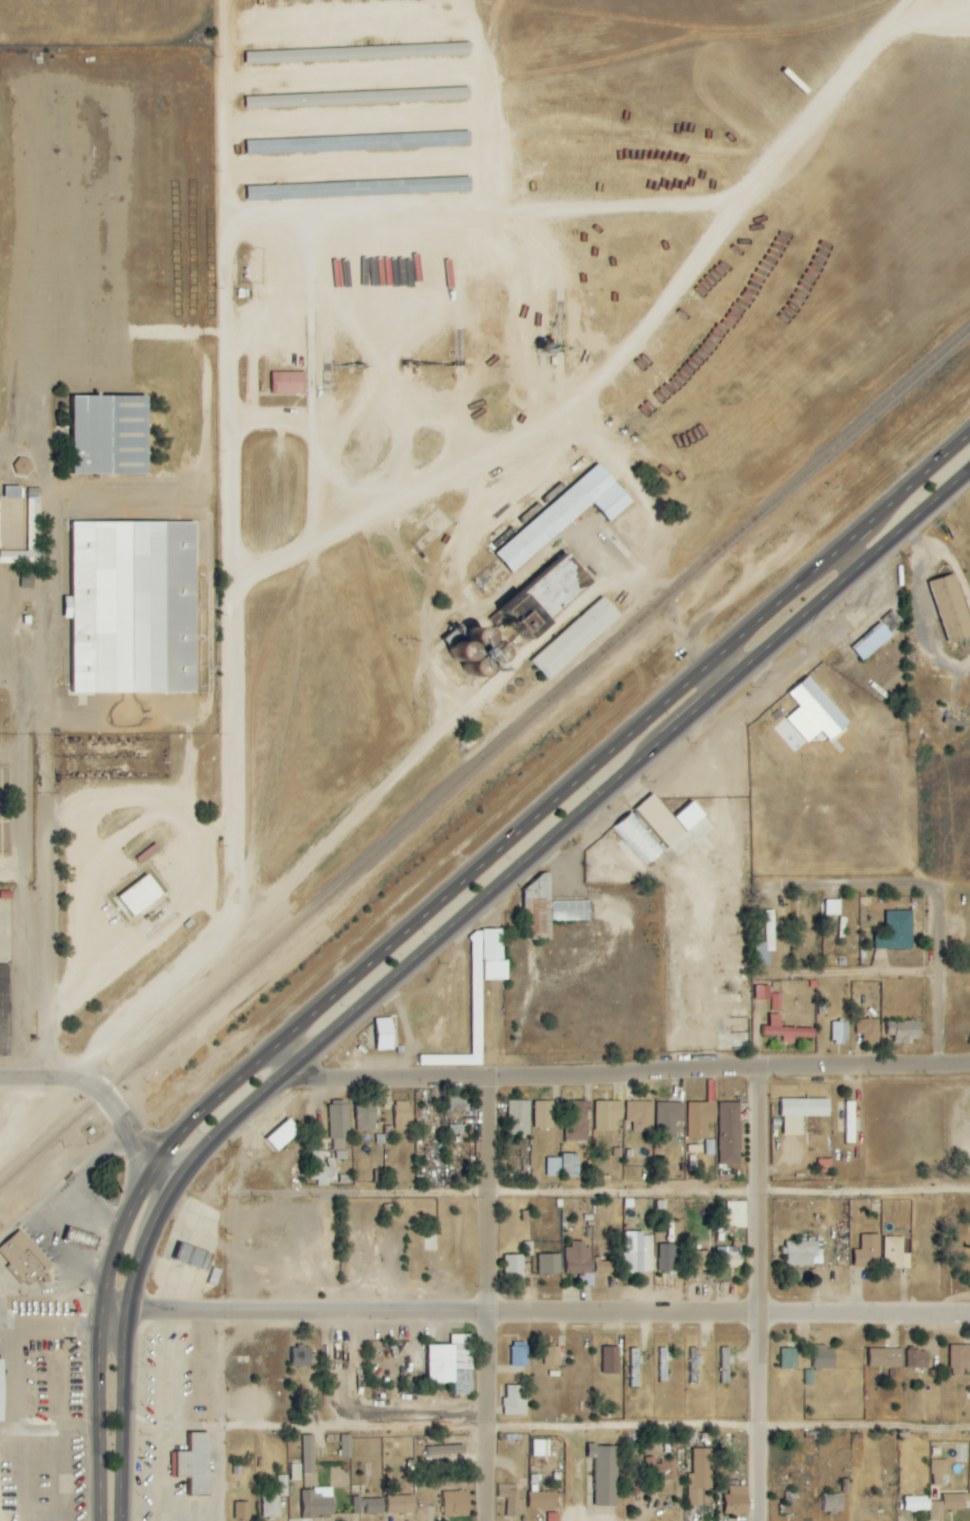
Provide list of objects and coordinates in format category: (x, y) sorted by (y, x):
building: (359, 53)
building: (359, 98)
building: (359, 143)
building: (359, 189)
road: (631, 356)
building: (289, 383)
building: (111, 434)
road: (328, 448)
road: (232, 459)
building: (24, 466)
building: (13, 492)
building: (567, 514)
building: (29, 536)
road: (852, 553)
building: (28, 580)
road: (929, 586)
building: (542, 595)
road: (649, 600)
building: (134, 608)
building: (952, 608)
road: (429, 612)
building: (576, 638)
building: (478, 641)
storage tank: (478, 641)
building: (873, 641)
building: (460, 653)
storage tank: (460, 653)
building: (491, 658)
storage tank: (491, 658)
building: (473, 670)
storage tank: (473, 670)
building: (816, 713)
railway: (499, 742)
road: (48, 778)
road: (564, 787)
road: (121, 807)
building: (669, 818)
road: (341, 821)
road: (564, 825)
road: (843, 888)
road: (23, 891)
building: (140, 895)
road: (205, 895)
road: (91, 906)
building: (833, 907)
building: (549, 909)
building: (897, 931)
building: (766, 940)
road: (856, 977)
road: (947, 984)
building: (477, 994)
building: (769, 997)
building: (869, 1029)
building: (787, 1030)
building: (905, 1030)
building: (839, 1032)
building: (385, 1034)
road: (113, 1035)
road: (956, 1064)
road: (598, 1077)
road: (27, 1080)
building: (457, 1105)
building: (801, 1113)
building: (544, 1114)
building: (366, 1115)
building: (402, 1115)
building: (608, 1115)
road: (125, 1116)
building: (640, 1116)
building: (519, 1117)
building: (669, 1118)
building: (700, 1119)
building: (576, 1121)
building: (850, 1122)
building: (339, 1128)
building: (730, 1133)
building: (279, 1135)
building: (564, 1166)
building: (322, 1169)
railway: (14, 1170)
road: (601, 1190)
building: (735, 1214)
road: (755, 1225)
building: (868, 1251)
building: (639, 1252)
building: (802, 1253)
building: (896, 1253)
building: (730, 1255)
building: (667, 1258)
building: (22, 1260)
building: (699, 1260)
building: (549, 1264)
building: (579, 1265)
building: (515, 1266)
building: (604, 1266)
road: (484, 1299)
road: (535, 1312)
road: (101, 1329)
road: (123, 1351)
building: (301, 1356)
building: (553, 1356)
building: (725, 1356)
building: (520, 1357)
building: (825, 1358)
building: (887, 1358)
building: (789, 1359)
building: (918, 1359)
building: (960, 1359)
building: (610, 1361)
building: (451, 1364)
building: (635, 1368)
building: (808, 1377)
building: (1, 1391)
building: (515, 1400)
road: (219, 1415)
road: (545, 1429)
building: (346, 1446)
building: (540, 1448)
building: (450, 1453)
building: (308, 1454)
building: (194, 1463)
building: (660, 1470)
building: (295, 1472)
building: (939, 1472)
building: (605, 1474)
building: (700, 1476)
building: (271, 1498)
building: (511, 1500)
building: (542, 1500)
building: (737, 1500)
building: (317, 1503)
building: (789, 1503)
building: (401, 1504)
building: (457, 1504)
building: (834, 1504)
building: (918, 1504)
building: (368, 1506)
building: (243, 1510)
building: (553, 1517)

